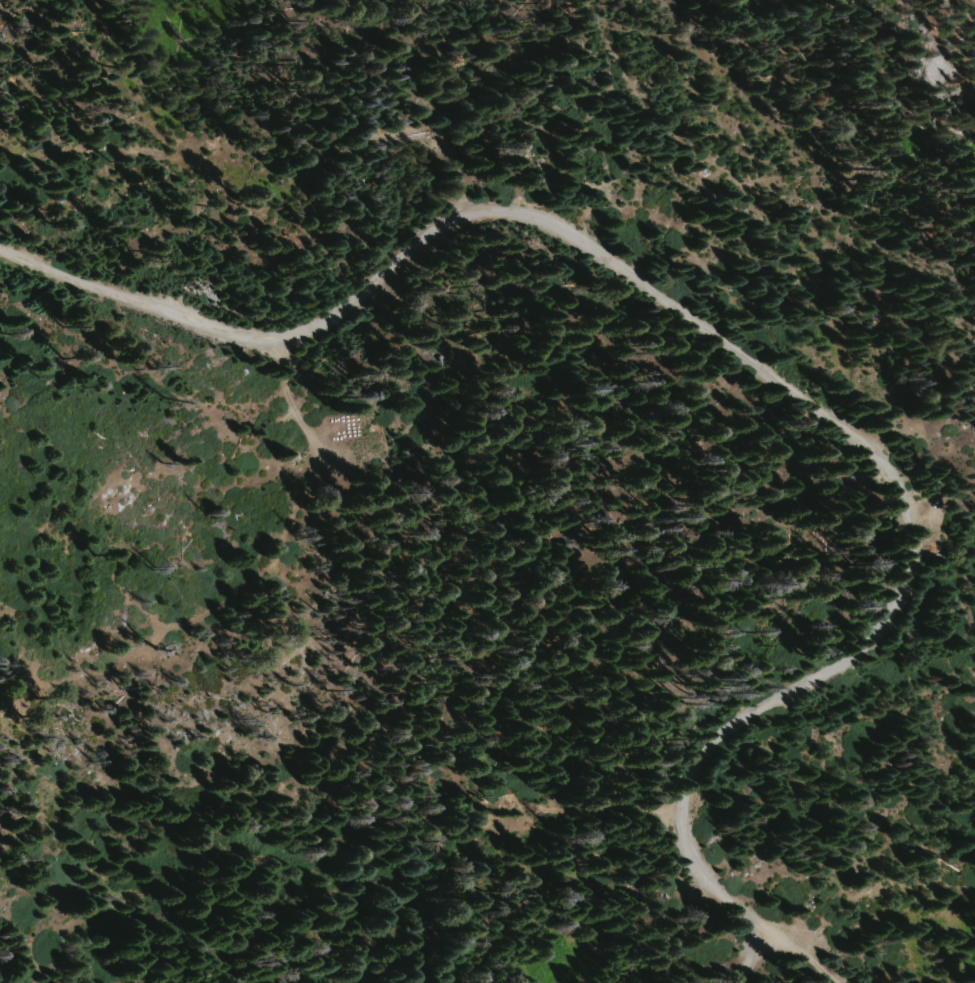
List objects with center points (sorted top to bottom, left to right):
road: (688, 305)
road: (637, 979)
road: (648, 979)

